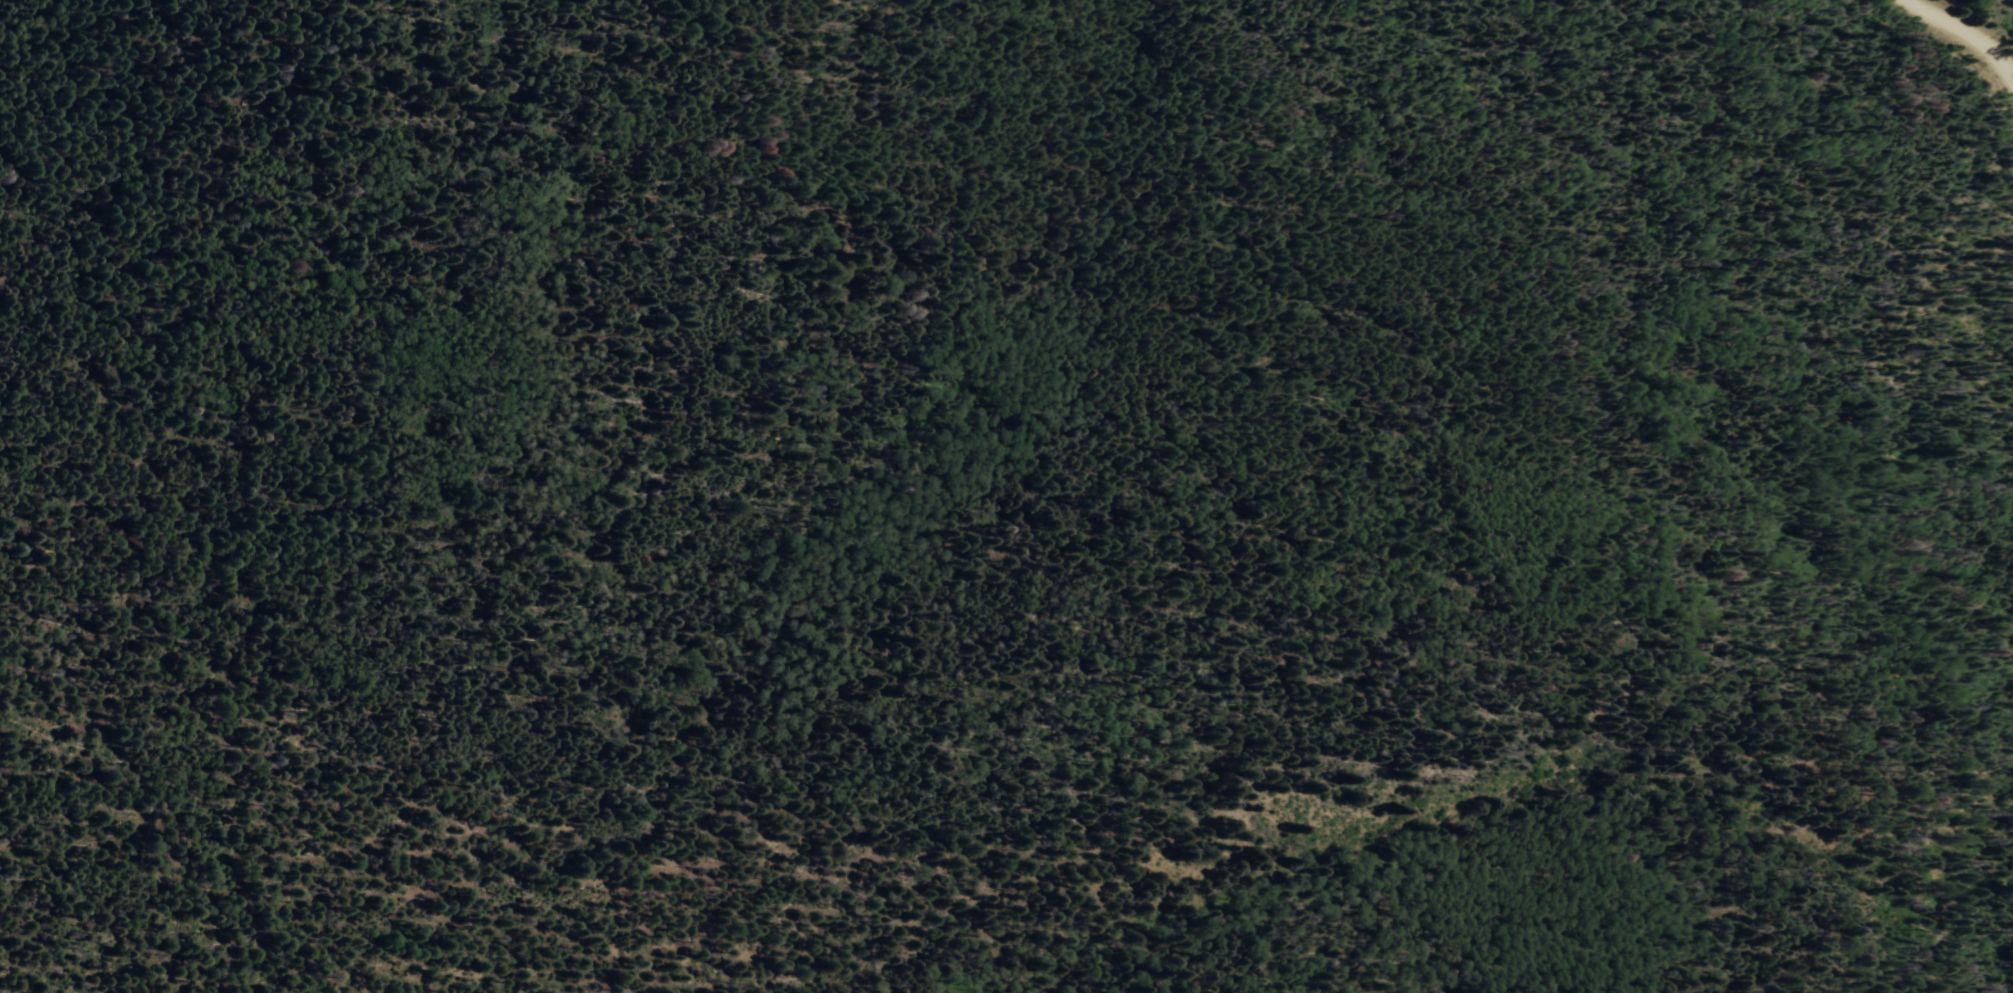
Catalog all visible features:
road: (1965, 32)

